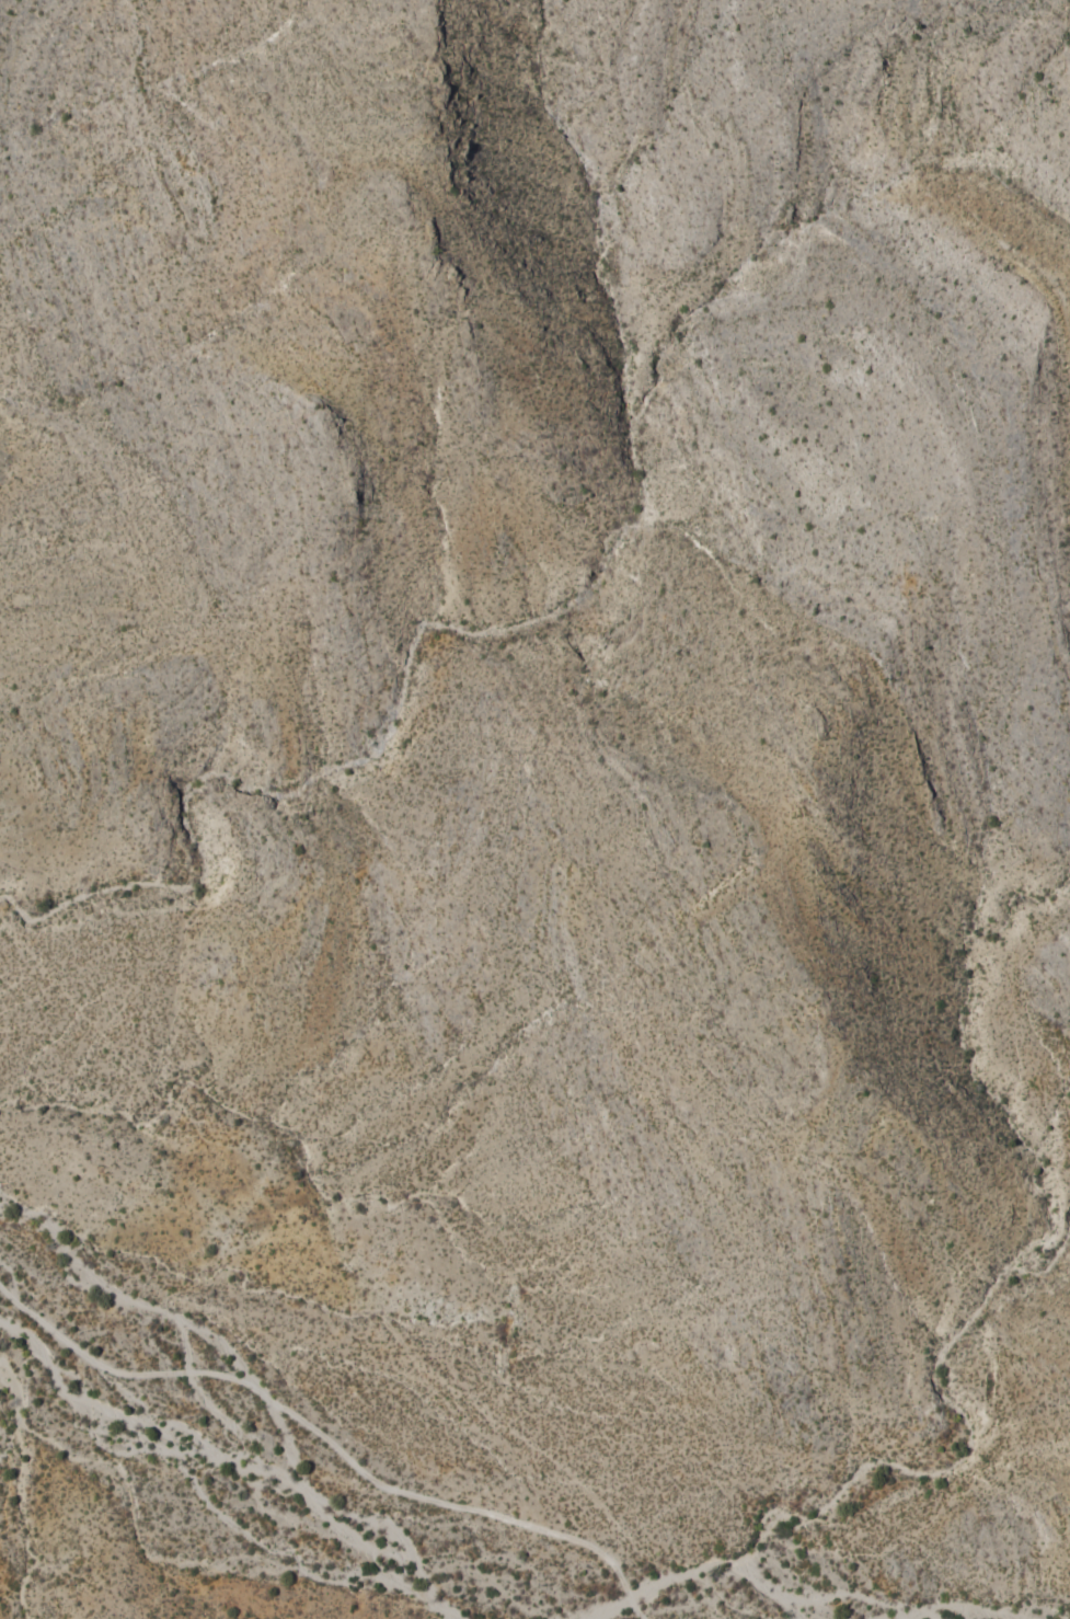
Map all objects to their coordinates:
road: (327, 1442)

